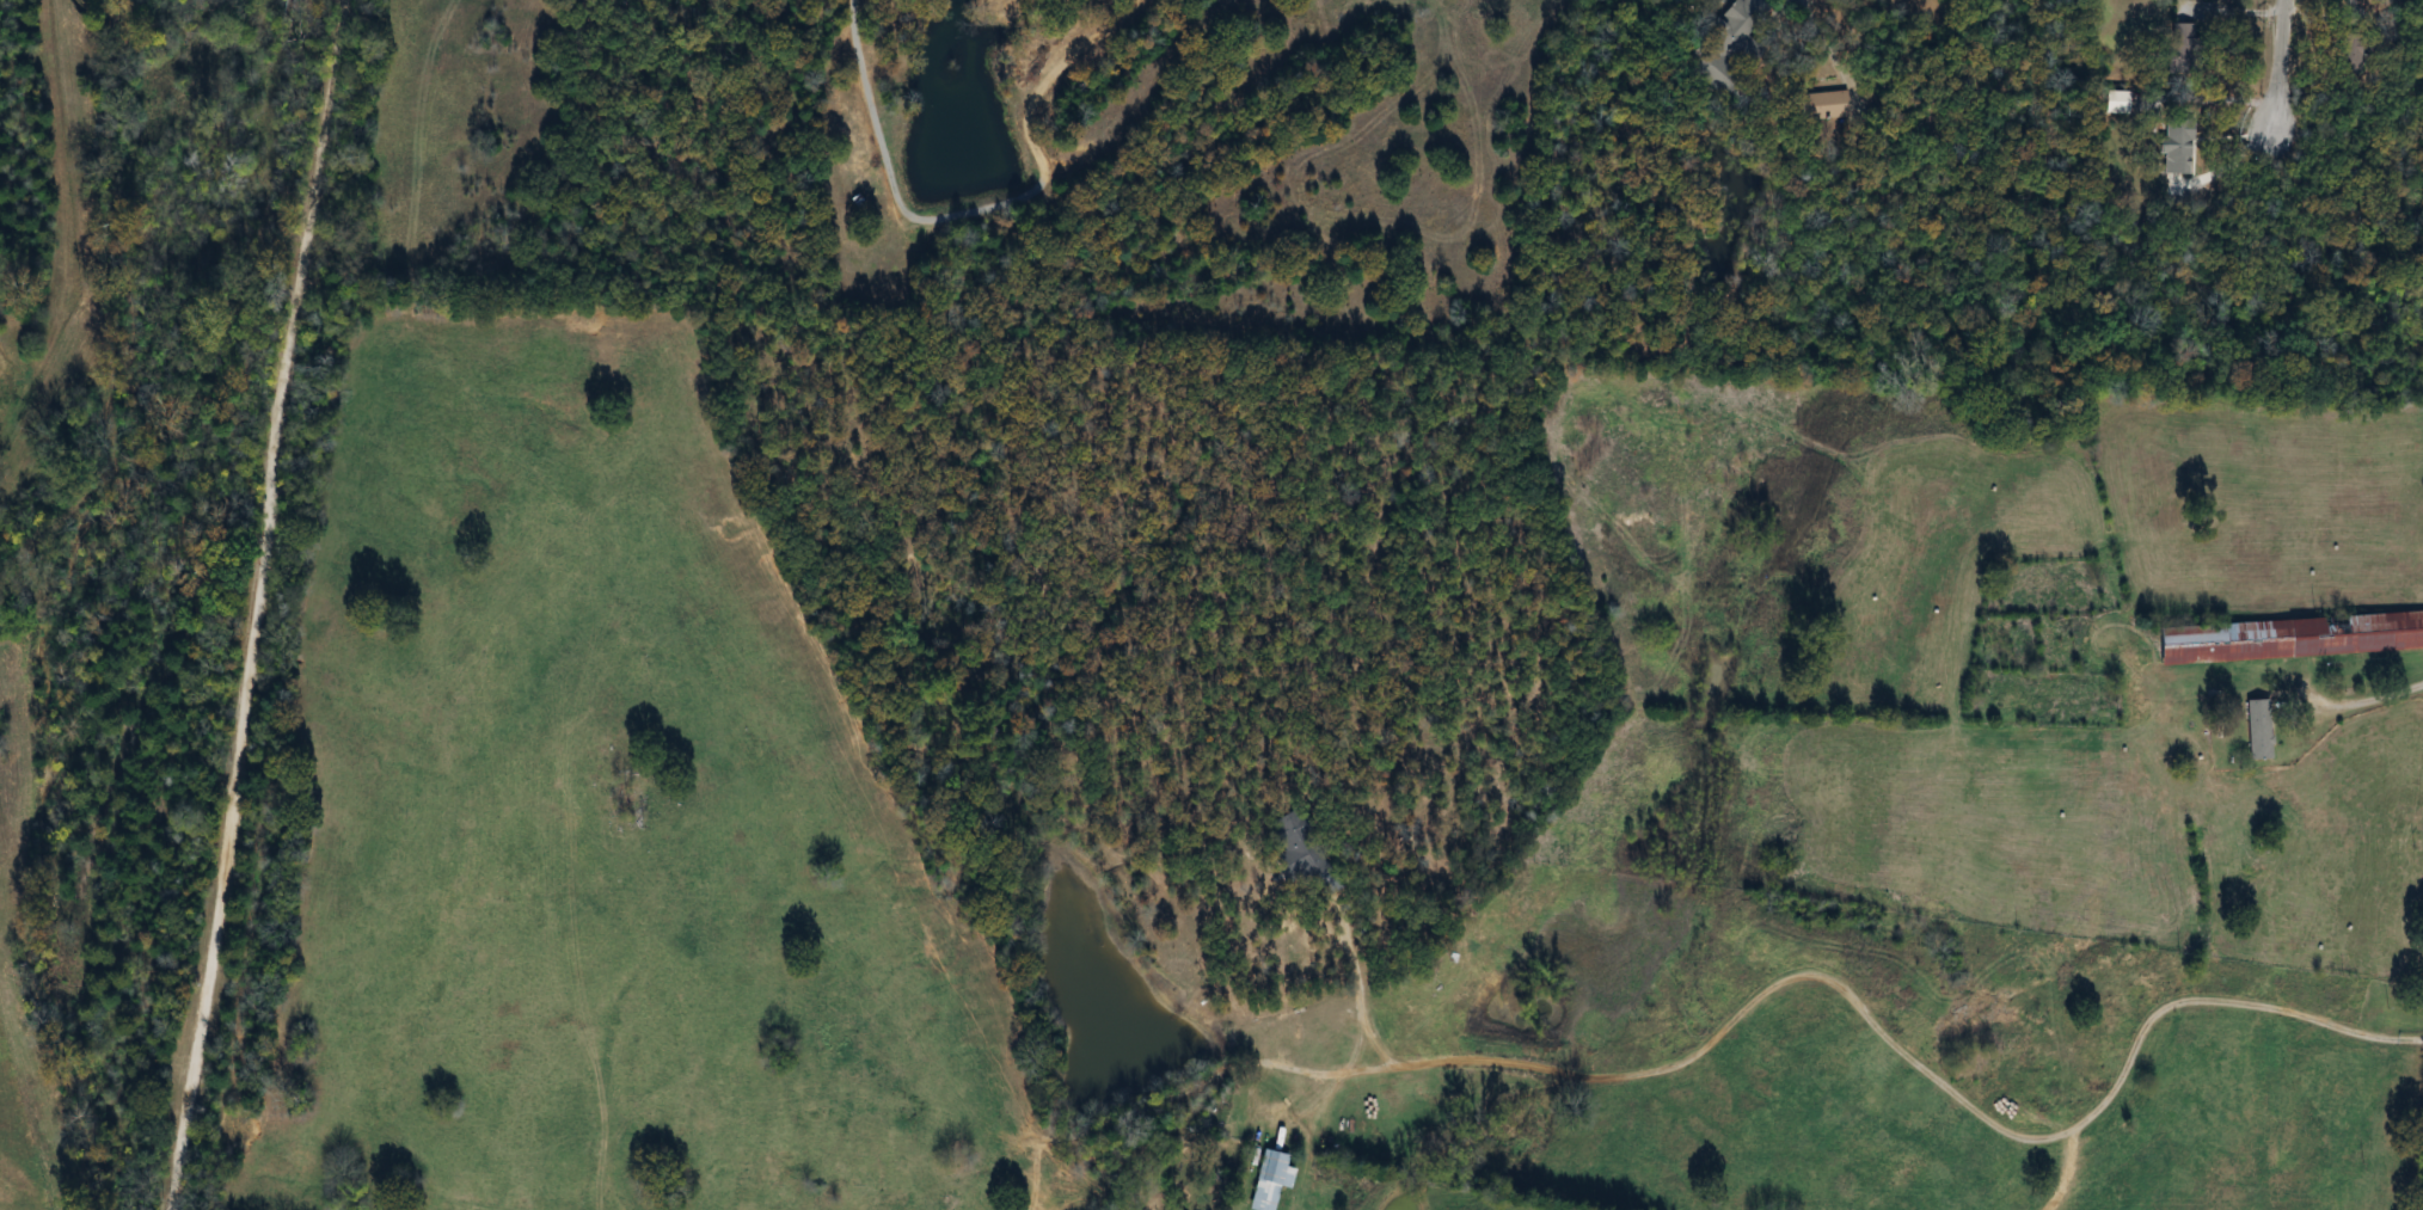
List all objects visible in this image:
building: (1731, 42)
building: (2179, 48)
building: (2349, 54)
road: (2281, 69)
building: (2120, 103)
building: (1822, 106)
building: (2177, 147)
road: (256, 604)
building: (2288, 638)
building: (2257, 730)
building: (1296, 848)
road: (1925, 1071)
building: (1268, 1180)

